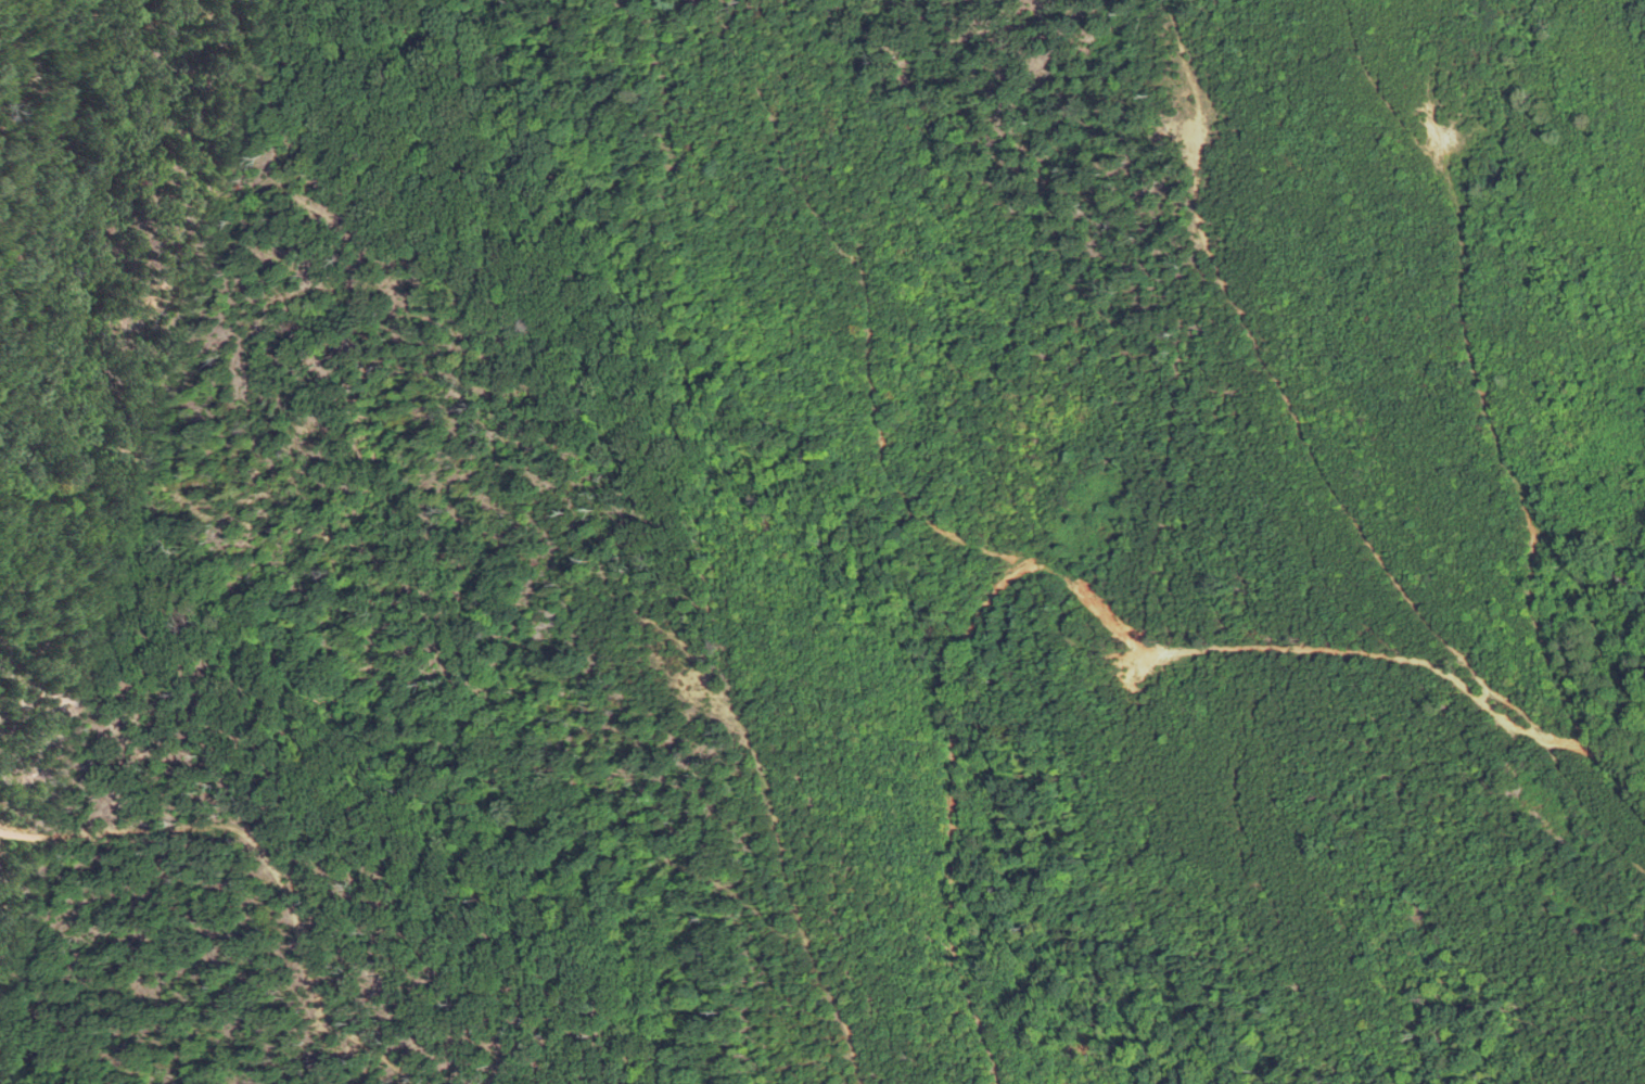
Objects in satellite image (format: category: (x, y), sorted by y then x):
building: (1619, 574)

